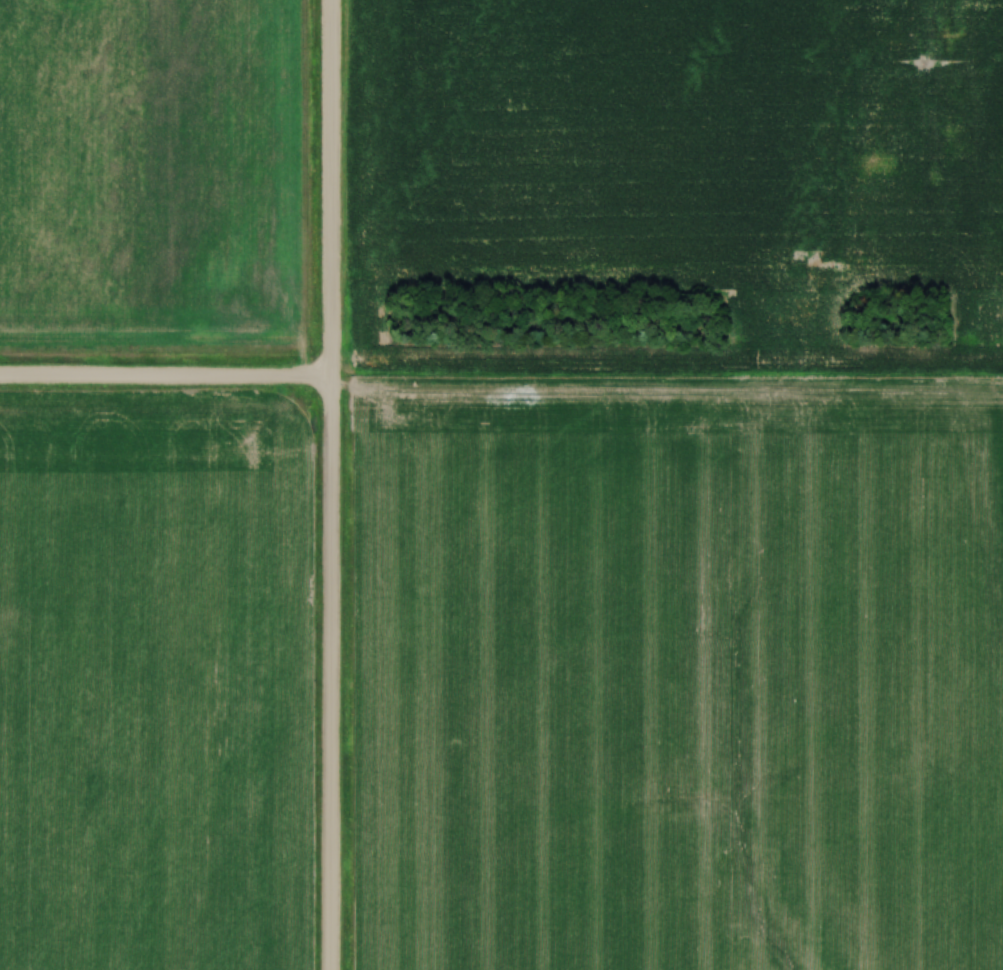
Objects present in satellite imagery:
crop: (678, 138)
road: (165, 379)
road: (329, 484)

